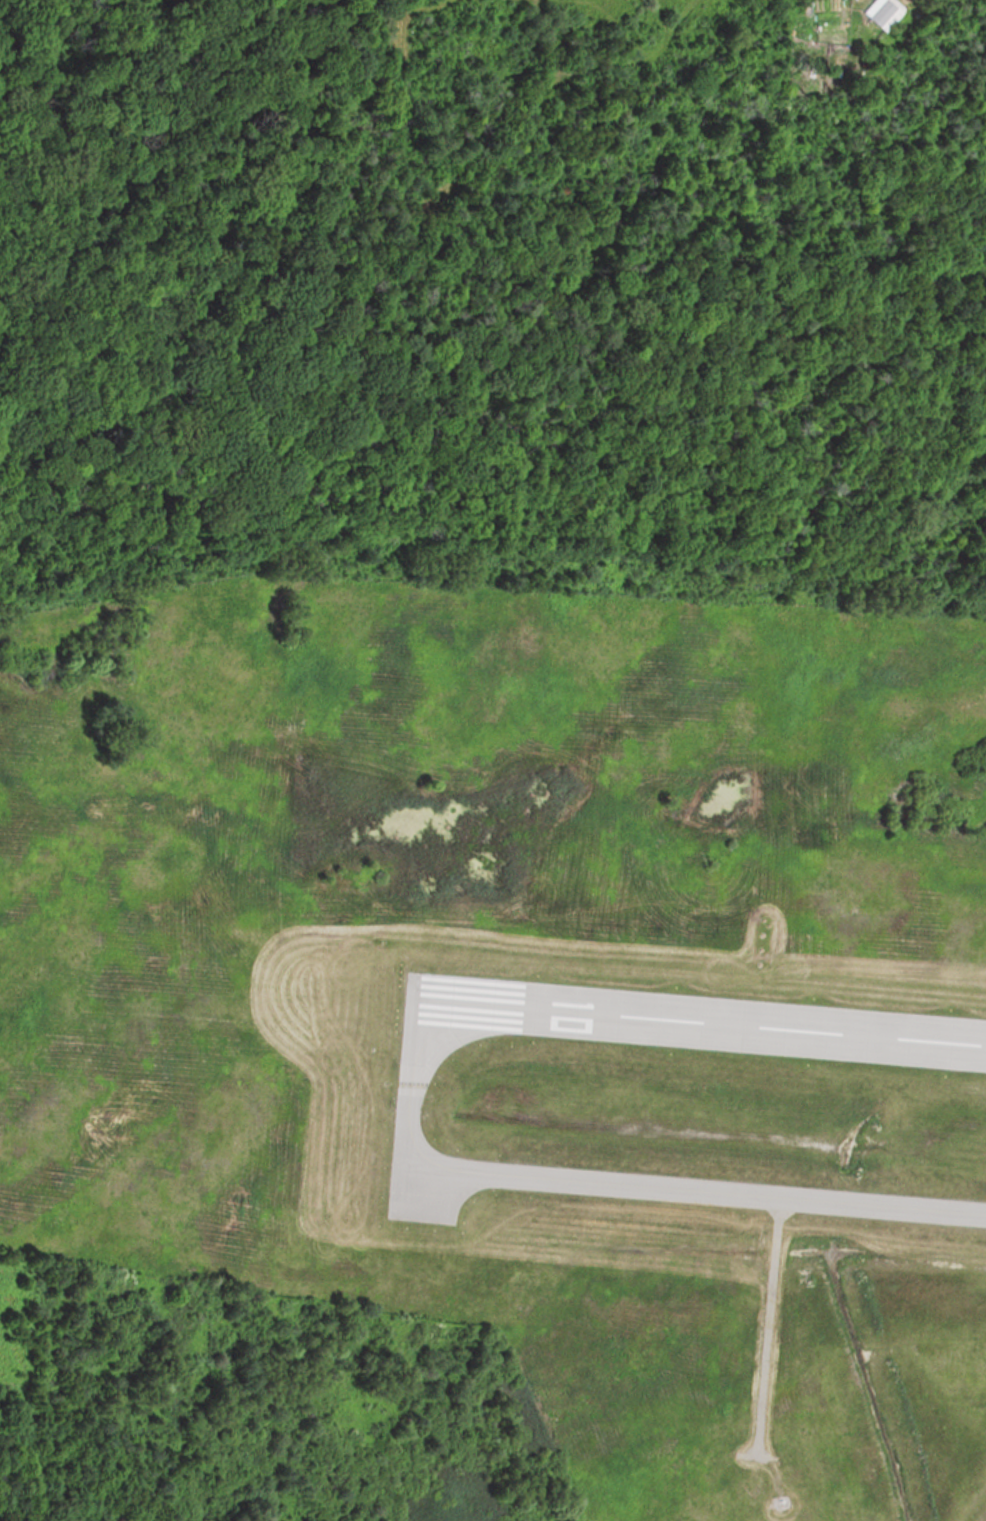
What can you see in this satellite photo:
airport runway: (397, 995)
airport runway: (693, 1017)
airport taxiway: (721, 1192)

